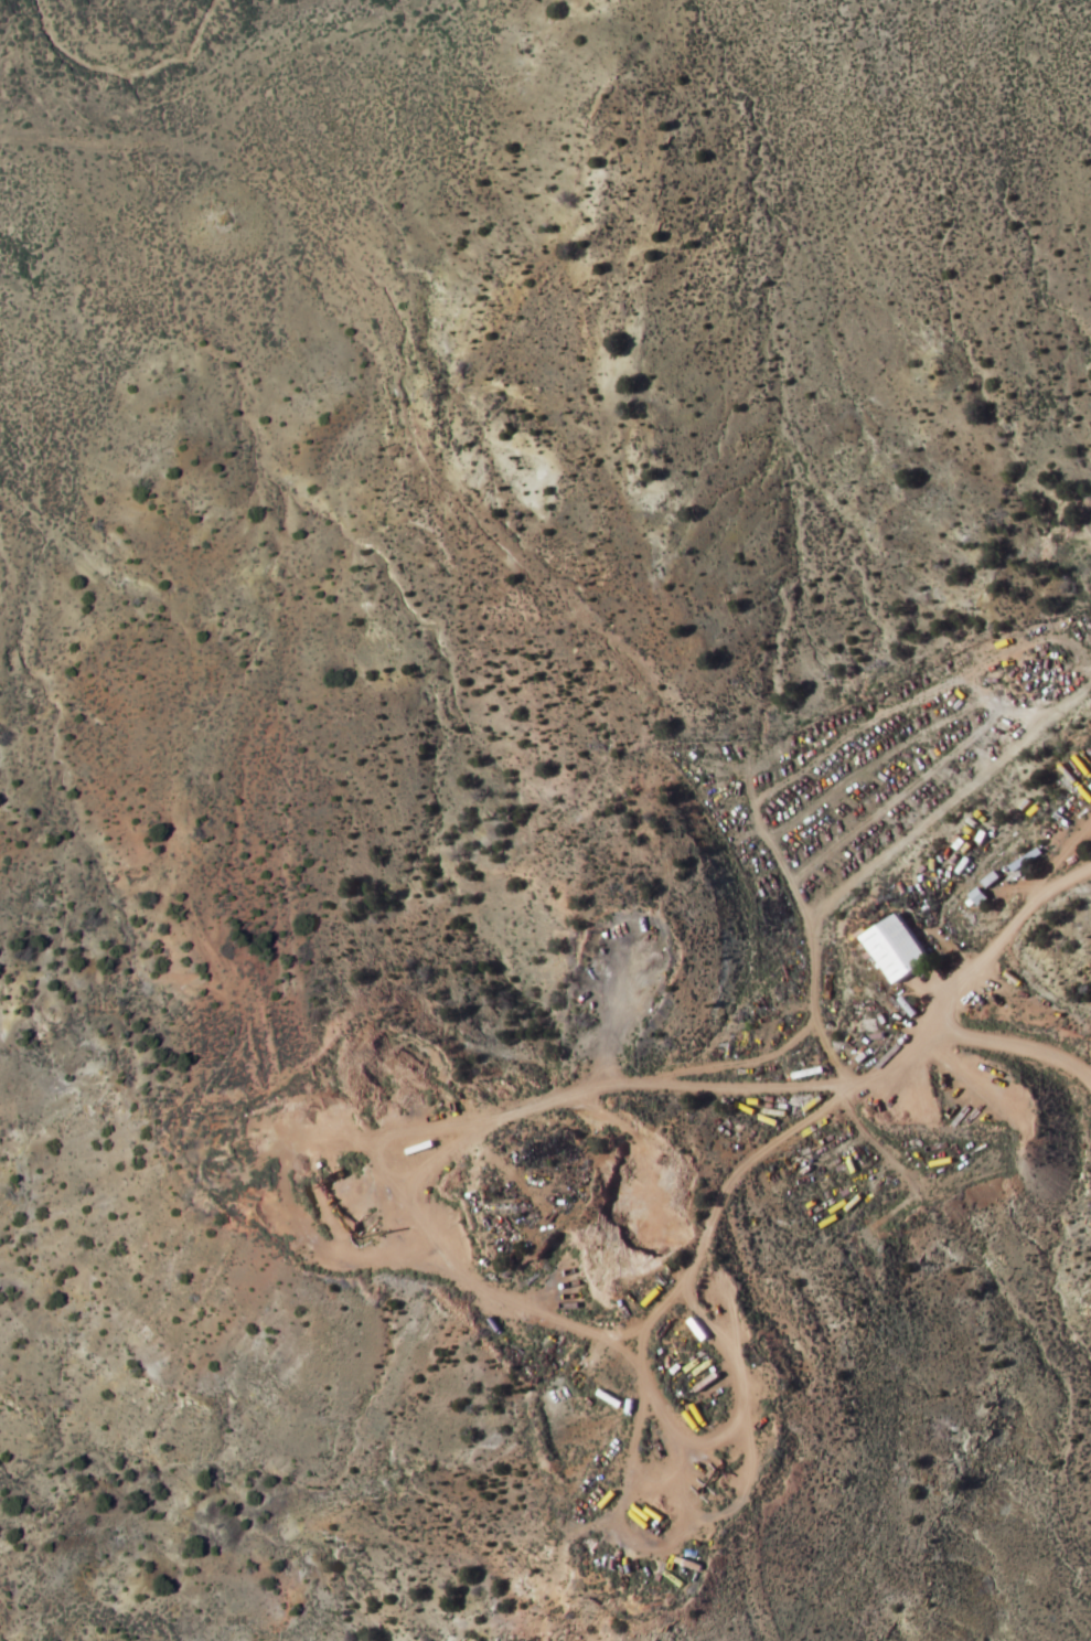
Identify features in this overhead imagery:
building: (1030, 861)
building: (995, 880)
building: (898, 948)
road: (1015, 1047)

